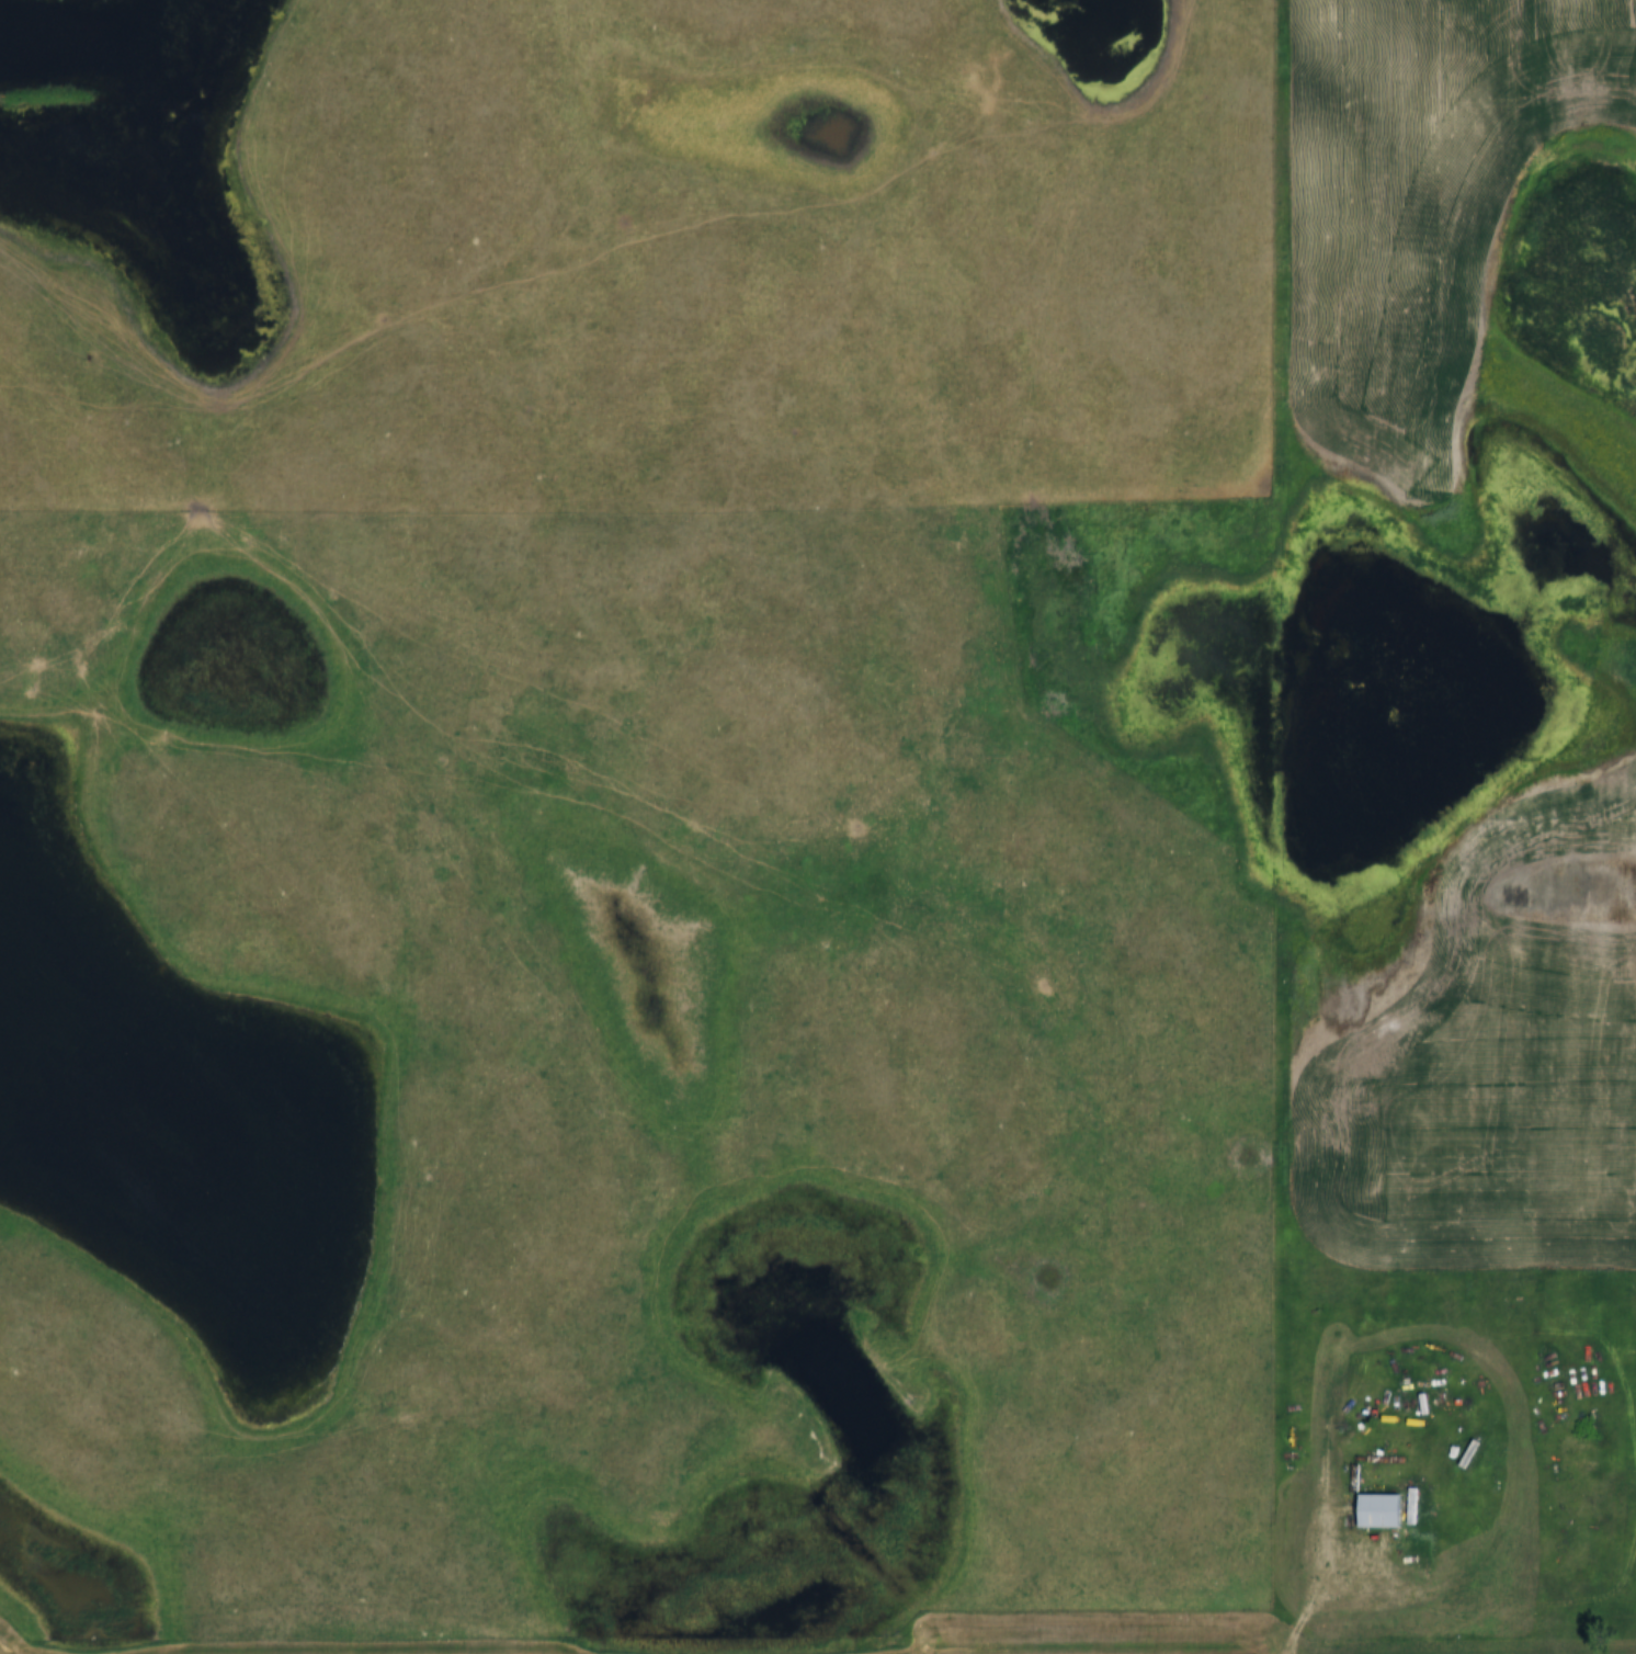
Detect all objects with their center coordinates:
building: (1389, 1510)

